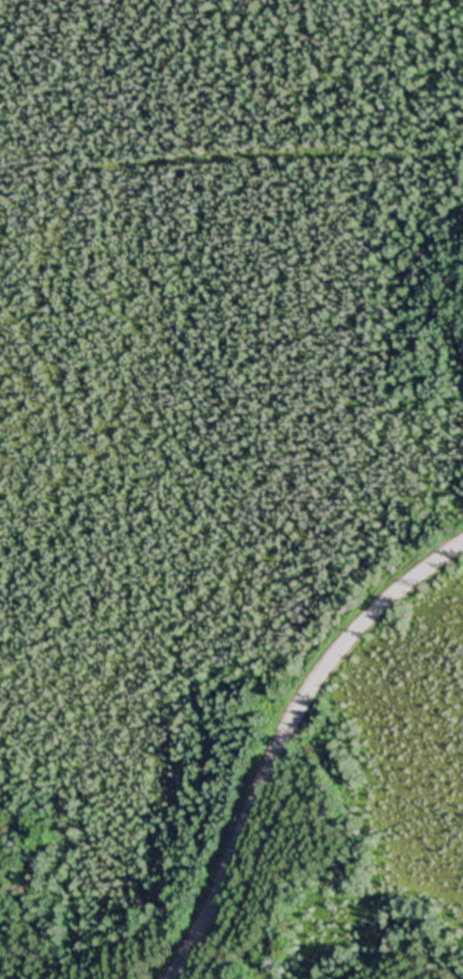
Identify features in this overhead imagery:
road: (286, 738)

